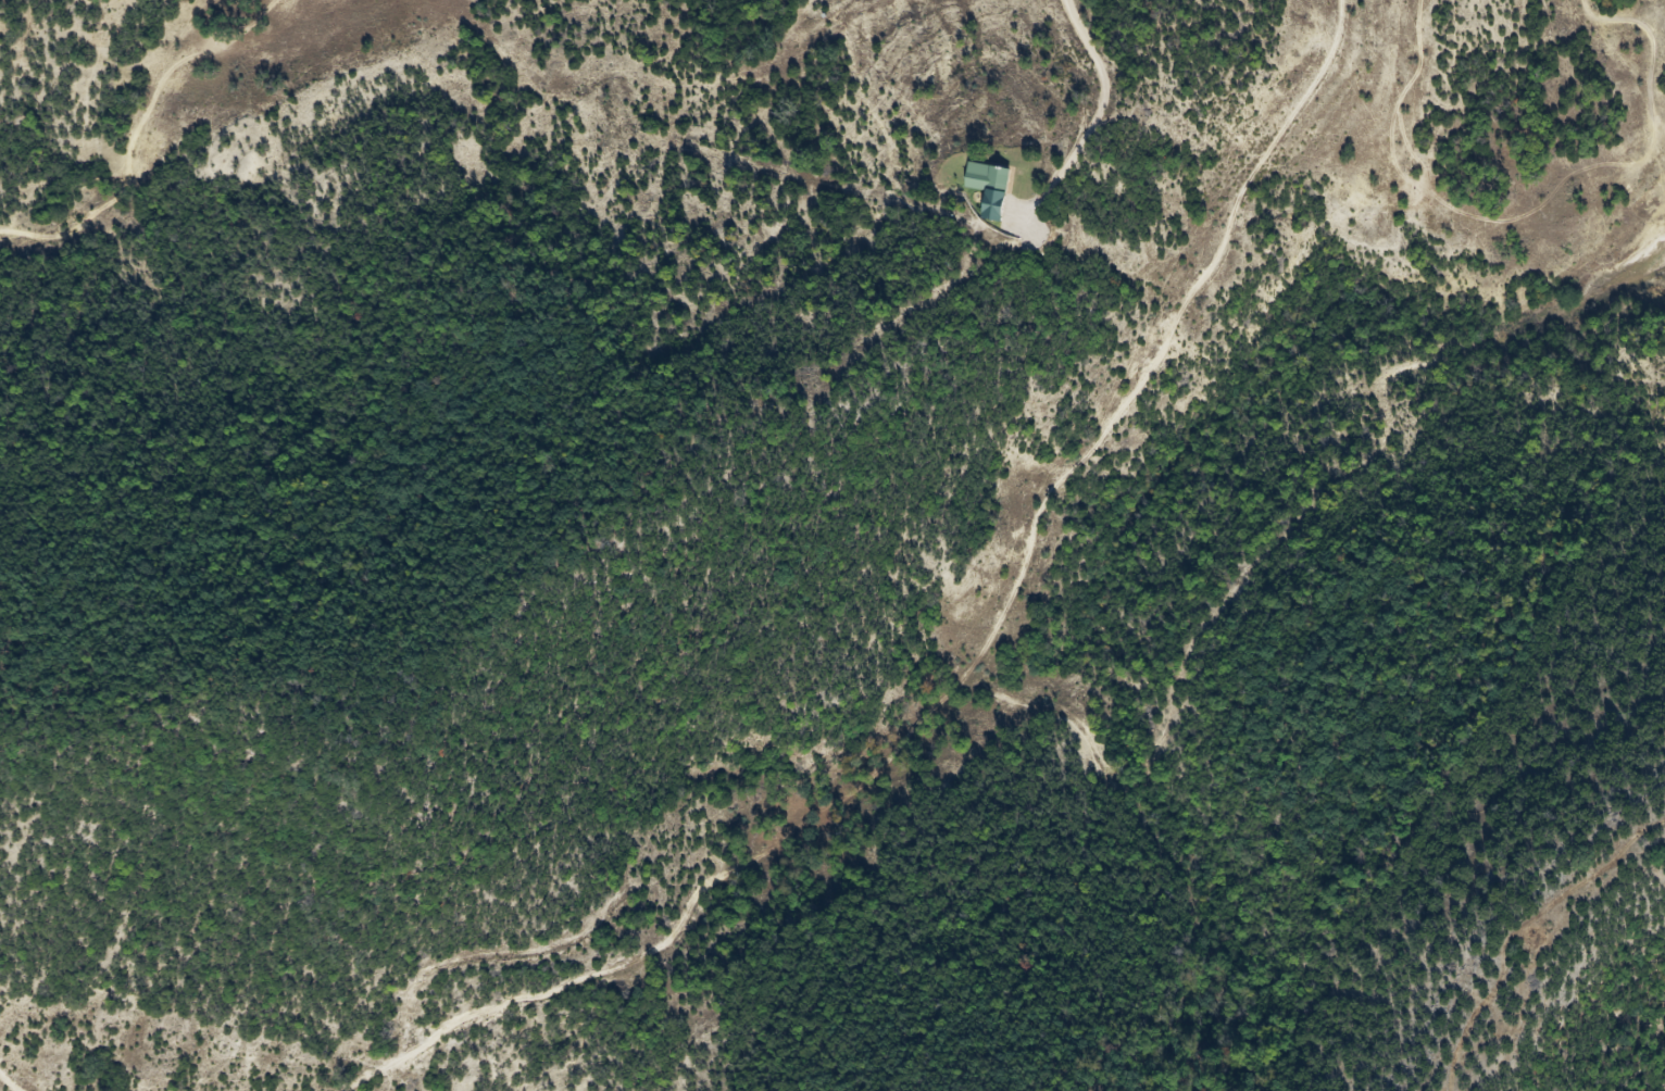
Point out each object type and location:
building: (978, 184)

